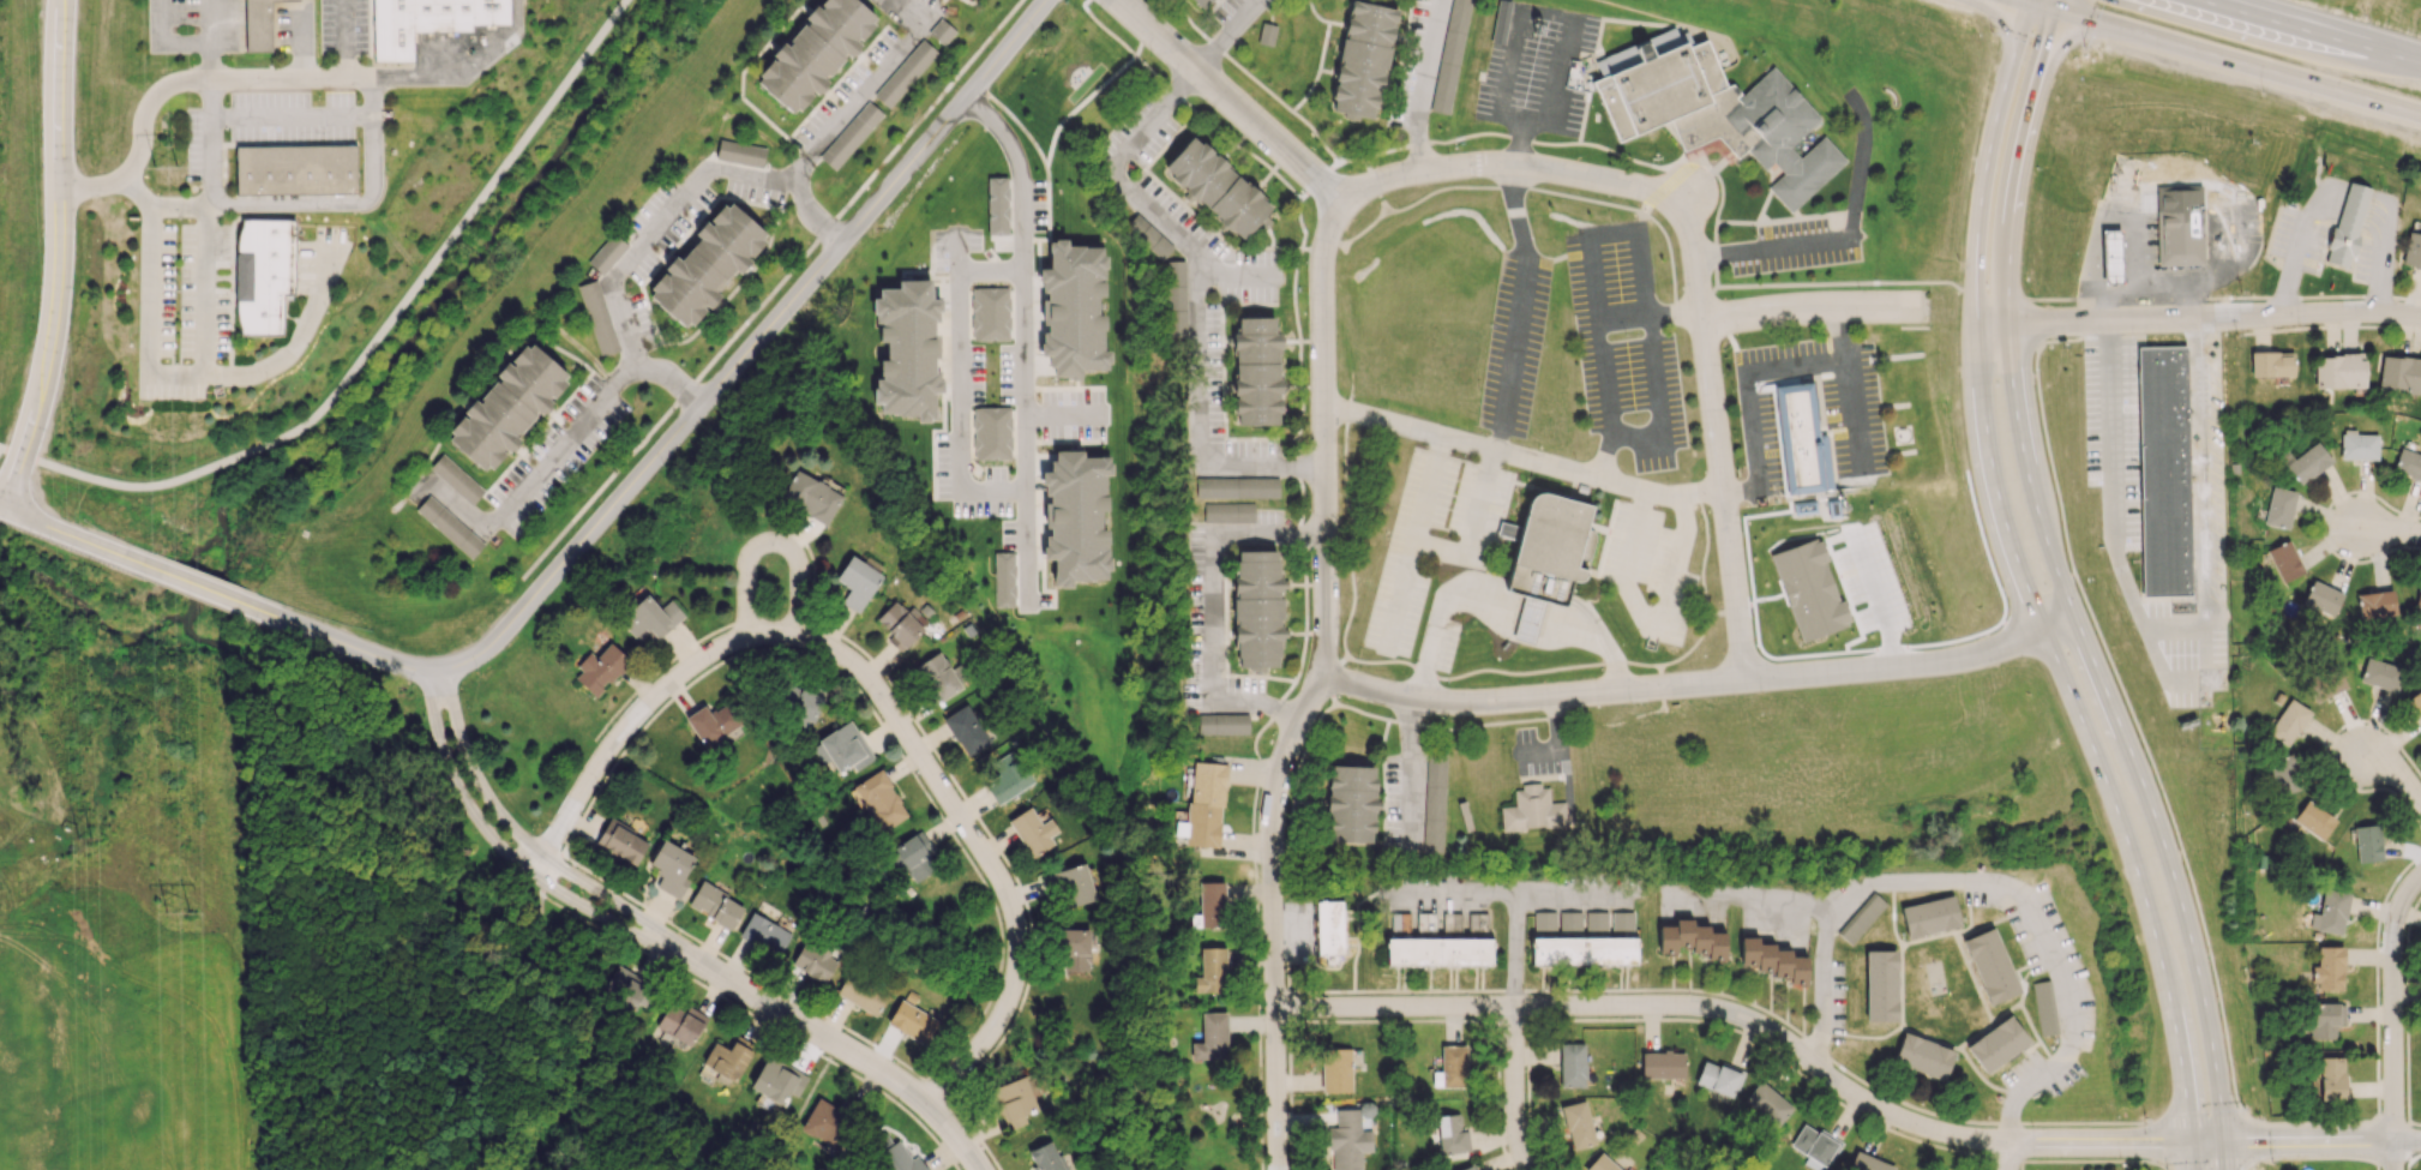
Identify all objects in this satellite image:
road: (969, 1)
road: (2024, 1)
road: (2029, 1)
building: (1201, 2)
traffic signals: (2029, 2)
road: (2059, 5)
traffic signals: (2057, 11)
road: (913, 12)
road: (937, 12)
road: (210, 19)
building: (1500, 20)
building: (426, 22)
building: (257, 25)
building: (941, 31)
road: (2308, 31)
building: (1266, 34)
road: (168, 38)
road: (343, 38)
building: (813, 52)
building: (1450, 55)
road: (2224, 56)
road: (211, 59)
building: (1362, 59)
road: (462, 70)
park: (1085, 70)
building: (905, 73)
road: (1425, 80)
road: (181, 82)
road: (863, 107)
building: (1712, 109)
road: (290, 114)
building: (851, 134)
road: (1471, 134)
building: (740, 152)
road: (1476, 156)
road: (1536, 161)
road: (2016, 163)
power tower: (168, 168)
building: (295, 169)
road: (1374, 175)
road: (1982, 182)
road: (1665, 184)
building: (1215, 186)
road: (1465, 186)
road: (2338, 202)
road: (293, 203)
road: (1383, 204)
building: (997, 205)
road: (1154, 211)
building: (2179, 221)
building: (2347, 224)
building: (1148, 236)
road: (661, 238)
road: (1771, 244)
parking lot: (1792, 246)
road: (956, 250)
park: (459, 251)
building: (606, 253)
building: (2109, 256)
road: (58, 258)
building: (705, 264)
building: (263, 274)
road: (1238, 277)
road: (208, 280)
road: (1830, 284)
road: (773, 290)
road: (1644, 290)
road: (2224, 295)
building: (1175, 298)
road: (1993, 298)
road: (1518, 305)
building: (1073, 308)
building: (990, 313)
road: (2198, 316)
building: (597, 317)
road: (2207, 332)
road: (1023, 336)
road: (1297, 336)
parking lot: (1512, 341)
road: (374, 343)
parking lot: (1623, 344)
road: (1599, 346)
building: (907, 349)
road: (751, 350)
building: (2271, 364)
building: (1255, 371)
building: (2338, 371)
road: (172, 373)
road: (1748, 373)
building: (2401, 374)
road: (959, 382)
building: (506, 407)
road: (1854, 410)
road: (1064, 416)
building: (991, 432)
building: (1803, 436)
road: (2024, 439)
road: (575, 443)
building: (2357, 445)
road: (1521, 460)
building: (2305, 462)
building: (2408, 464)
road: (1260, 469)
building: (2164, 474)
building: (456, 479)
building: (1236, 487)
building: (810, 496)
road: (1725, 497)
road: (2199, 500)
road: (1995, 504)
building: (1803, 505)
building: (1832, 508)
building: (2279, 508)
building: (1227, 511)
building: (1076, 517)
road: (2111, 518)
building: (449, 526)
road: (1472, 528)
road: (2389, 528)
road: (67, 534)
road: (770, 539)
road: (1414, 539)
building: (1548, 546)
building: (2284, 560)
building: (858, 580)
building: (1014, 586)
road: (203, 587)
road: (2061, 588)
building: (2419, 596)
building: (2321, 598)
road: (1875, 601)
building: (2375, 604)
road: (1214, 607)
building: (1255, 607)
road: (1440, 612)
road: (1531, 616)
building: (650, 617)
road: (1646, 618)
building: (1528, 619)
building: (899, 625)
road: (1599, 638)
road: (353, 646)
building: (601, 668)
building: (2379, 673)
building: (936, 677)
road: (1323, 683)
road: (1700, 684)
building: (2325, 685)
road: (882, 697)
building: (2415, 703)
road: (2108, 708)
building: (711, 722)
building: (2288, 722)
building: (1222, 724)
road: (2138, 728)
building: (965, 730)
road: (1557, 743)
building: (845, 748)
road: (1410, 769)
road: (2395, 769)
building: (2284, 774)
building: (1007, 776)
road: (2107, 786)
building: (879, 800)
building: (1434, 802)
building: (1206, 803)
building: (1348, 805)
building: (1532, 809)
building: (2313, 820)
building: (1032, 830)
road: (513, 833)
power tower: (85, 838)
building: (620, 841)
building: (2367, 842)
road: (497, 845)
building: (914, 856)
building: (671, 868)
road: (548, 871)
building: (1069, 884)
road: (1512, 890)
road: (540, 892)
road: (1990, 892)
road: (1753, 896)
building: (1210, 904)
building: (715, 905)
power tower: (185, 906)
building: (2330, 912)
building: (1929, 916)
building: (1861, 918)
building: (1569, 919)
building: (1596, 919)
building: (1544, 920)
building: (1327, 926)
building: (764, 934)
building: (1690, 938)
building: (1074, 949)
road: (1514, 949)
building: (1582, 950)
building: (1437, 952)
building: (1772, 960)
building: (815, 961)
building: (1989, 965)
road: (2197, 966)
building: (2329, 968)
building: (1210, 970)
building: (1880, 985)
building: (627, 989)
building: (861, 991)
road: (1552, 1007)
building: (2043, 1008)
road: (759, 1018)
building: (2324, 1019)
building: (912, 1021)
road: (2393, 1021)
building: (680, 1024)
road: (594, 1030)
building: (1210, 1037)
road: (2182, 1043)
road: (828, 1044)
building: (1996, 1044)
building: (1922, 1056)
building: (731, 1058)
building: (1572, 1064)
building: (1662, 1064)
building: (1450, 1067)
building: (1335, 1069)
building: (1719, 1078)
building: (2331, 1078)
building: (779, 1079)
road: (1520, 1088)
building: (1013, 1102)
building: (1766, 1104)
road: (799, 1109)
road: (1976, 1120)
road: (2195, 1120)
road: (2413, 1121)
road: (2306, 1122)
road: (2387, 1122)
building: (831, 1123)
building: (1576, 1124)
building: (1450, 1134)
building: (1347, 1140)
road: (2151, 1140)
road: (2006, 1142)
road: (2323, 1142)
traffic signals: (2194, 1144)
traffic signals: (2224, 1144)
building: (1814, 1146)
road: (707, 1153)
road: (687, 1154)
building: (890, 1156)
road: (2224, 1156)
building: (1045, 1157)
road: (2008, 1157)
road: (2194, 1157)
road: (2315, 1157)
road: (2413, 1157)
road: (2391, 1158)
building: (1867, 1163)
road: (2210, 1163)
building: (1600, 1164)
building: (1467, 1168)

